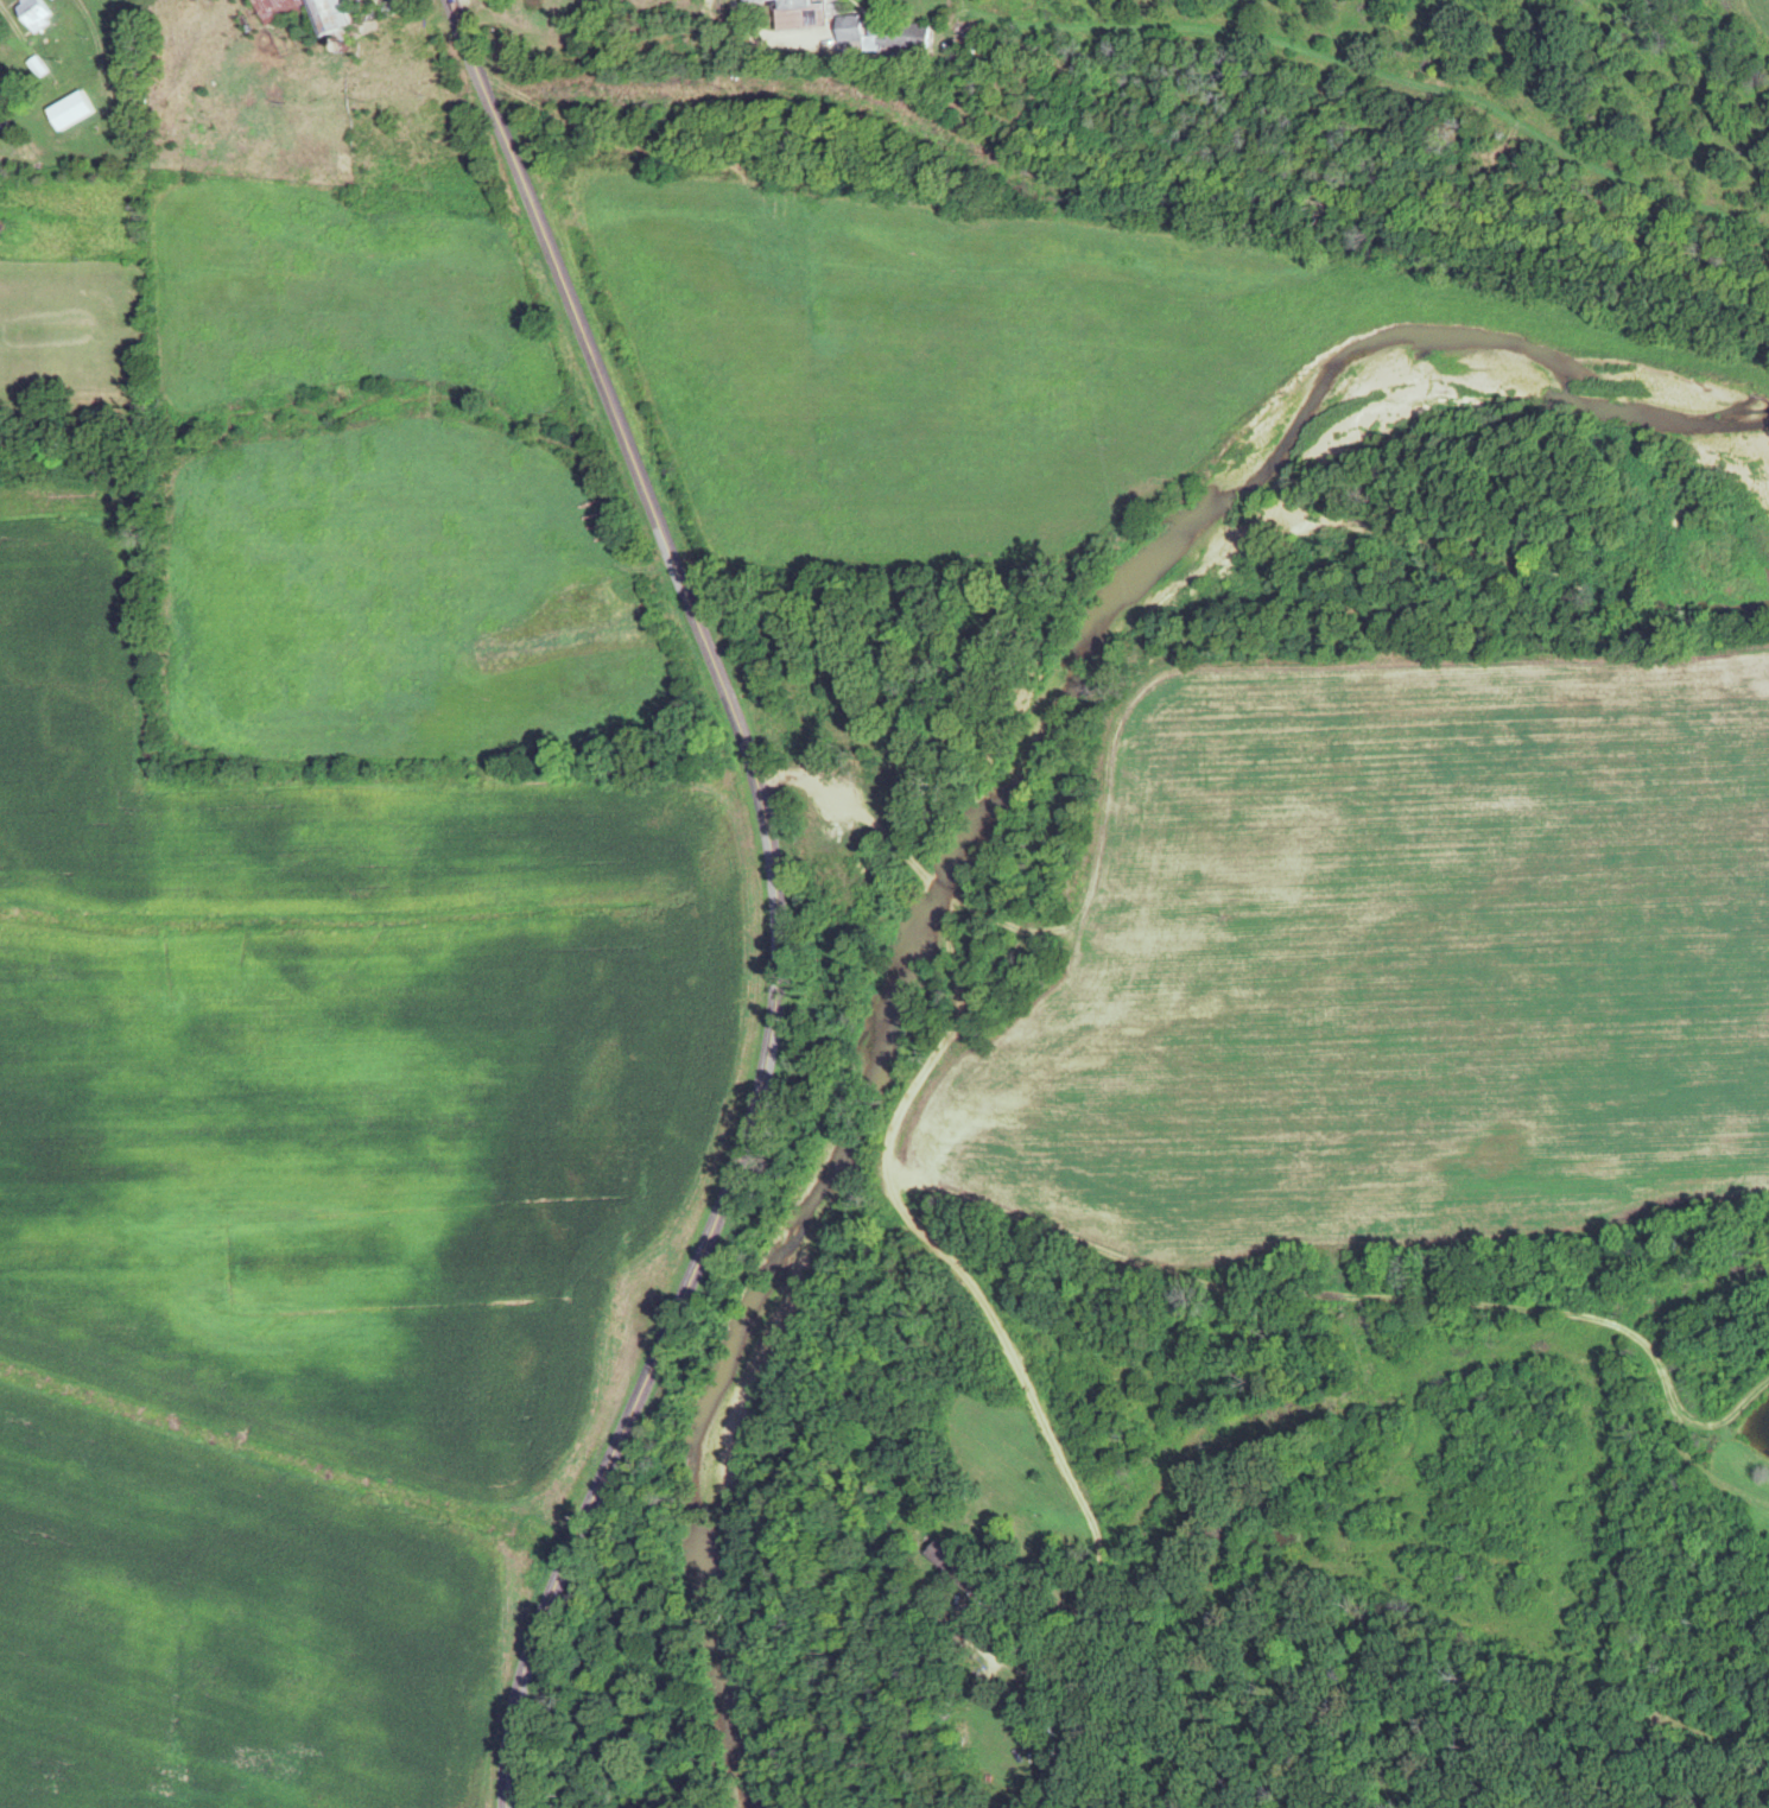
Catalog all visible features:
building: (388, 6)
building: (31, 14)
building: (792, 14)
building: (325, 19)
building: (879, 34)
road: (610, 71)
building: (66, 112)
road: (860, 895)
road: (775, 897)
road: (919, 1074)
road: (1089, 1251)
road: (1339, 1299)
building: (953, 1567)
building: (1046, 1726)

